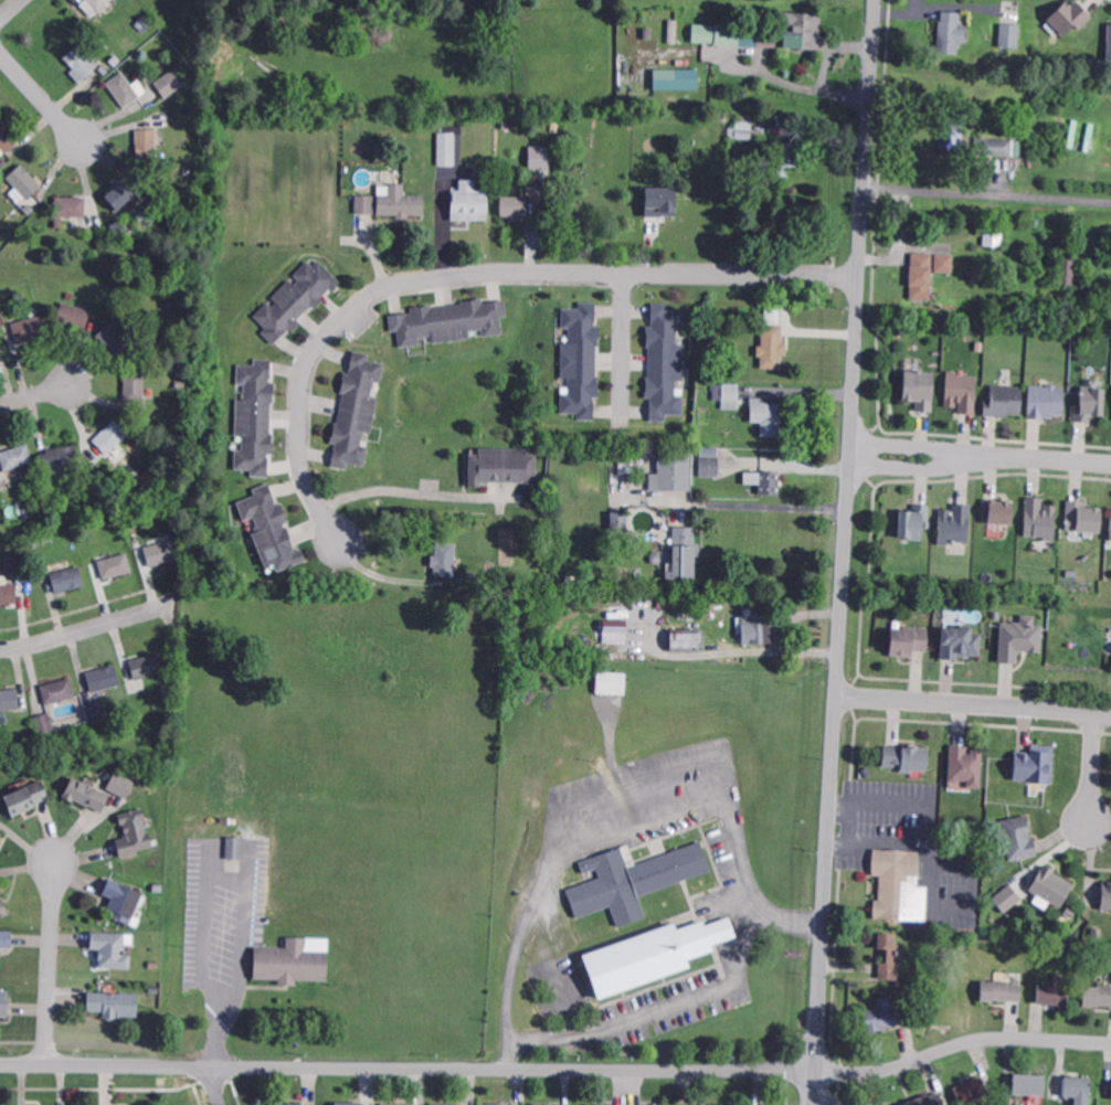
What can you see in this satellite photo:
building: (93, 6)
road: (10, 10)
building: (1069, 18)
building: (145, 25)
building: (802, 29)
building: (673, 31)
building: (952, 32)
building: (647, 34)
building: (726, 34)
building: (1011, 36)
building: (765, 38)
building: (1109, 44)
building: (81, 62)
building: (98, 75)
building: (677, 79)
building: (168, 85)
building: (121, 92)
road: (41, 96)
building: (508, 126)
building: (742, 131)
building: (951, 136)
building: (8, 138)
building: (146, 145)
building: (997, 146)
building: (382, 147)
building: (444, 148)
building: (789, 156)
building: (538, 157)
building: (2, 161)
building: (189, 171)
building: (24, 182)
road: (987, 192)
building: (121, 194)
building: (399, 200)
building: (659, 201)
building: (468, 203)
building: (364, 205)
building: (514, 206)
building: (68, 210)
building: (28, 211)
building: (121, 231)
building: (993, 237)
building: (945, 262)
building: (1067, 268)
road: (470, 272)
building: (921, 275)
building: (27, 295)
building: (296, 300)
building: (94, 317)
building: (73, 318)
building: (448, 322)
building: (28, 330)
building: (114, 340)
road: (622, 342)
building: (772, 346)
building: (580, 362)
building: (665, 363)
building: (755, 372)
building: (134, 389)
building: (920, 389)
building: (961, 392)
road: (35, 394)
building: (728, 394)
building: (1005, 401)
building: (1046, 401)
building: (1090, 403)
building: (356, 412)
building: (768, 415)
building: (255, 417)
building: (110, 437)
road: (934, 449)
road: (1064, 457)
building: (60, 458)
building: (15, 459)
building: (710, 465)
building: (502, 467)
road: (934, 469)
building: (634, 471)
building: (671, 471)
building: (770, 481)
road: (393, 489)
road: (764, 506)
building: (997, 512)
building: (25, 513)
building: (176, 513)
building: (1082, 518)
building: (617, 519)
building: (1039, 520)
building: (119, 522)
building: (913, 522)
building: (953, 525)
building: (1109, 525)
building: (269, 530)
building: (34, 545)
building: (685, 551)
road: (845, 552)
building: (161, 553)
building: (655, 557)
building: (444, 562)
building: (13, 565)
building: (115, 567)
building: (479, 578)
building: (571, 580)
building: (68, 582)
building: (8, 594)
building: (995, 615)
road: (88, 628)
building: (752, 630)
building: (613, 633)
building: (1019, 640)
building: (685, 641)
building: (908, 642)
building: (959, 644)
road: (738, 652)
building: (147, 668)
building: (104, 682)
building: (610, 683)
building: (57, 692)
building: (10, 702)
road: (974, 705)
building: (97, 714)
building: (43, 724)
building: (116, 731)
building: (904, 757)
building: (151, 759)
building: (1034, 765)
building: (964, 766)
road: (1089, 768)
building: (121, 785)
building: (84, 797)
building: (24, 800)
road: (850, 822)
road: (618, 831)
building: (0, 835)
building: (133, 835)
building: (1017, 839)
road: (879, 842)
building: (235, 847)
road: (939, 862)
building: (634, 880)
building: (898, 886)
building: (1049, 886)
building: (158, 890)
building: (1105, 896)
building: (1006, 900)
building: (123, 902)
road: (240, 909)
building: (2, 910)
building: (1096, 934)
building: (6, 939)
building: (110, 950)
building: (1072, 950)
building: (650, 953)
road: (54, 960)
building: (292, 961)
building: (888, 961)
building: (152, 966)
building: (154, 990)
building: (999, 991)
building: (1052, 994)
building: (1098, 995)
building: (3, 1003)
building: (114, 1008)
road: (660, 1010)
building: (883, 1013)
road: (558, 1067)
road: (215, 1085)
building: (1028, 1085)
building: (1077, 1090)
building: (971, 1091)
building: (1110, 1098)
building: (922, 1099)
building: (286, 1103)
building: (349, 1103)
building: (398, 1103)
building: (447, 1104)
building: (498, 1104)
building: (543, 1104)

